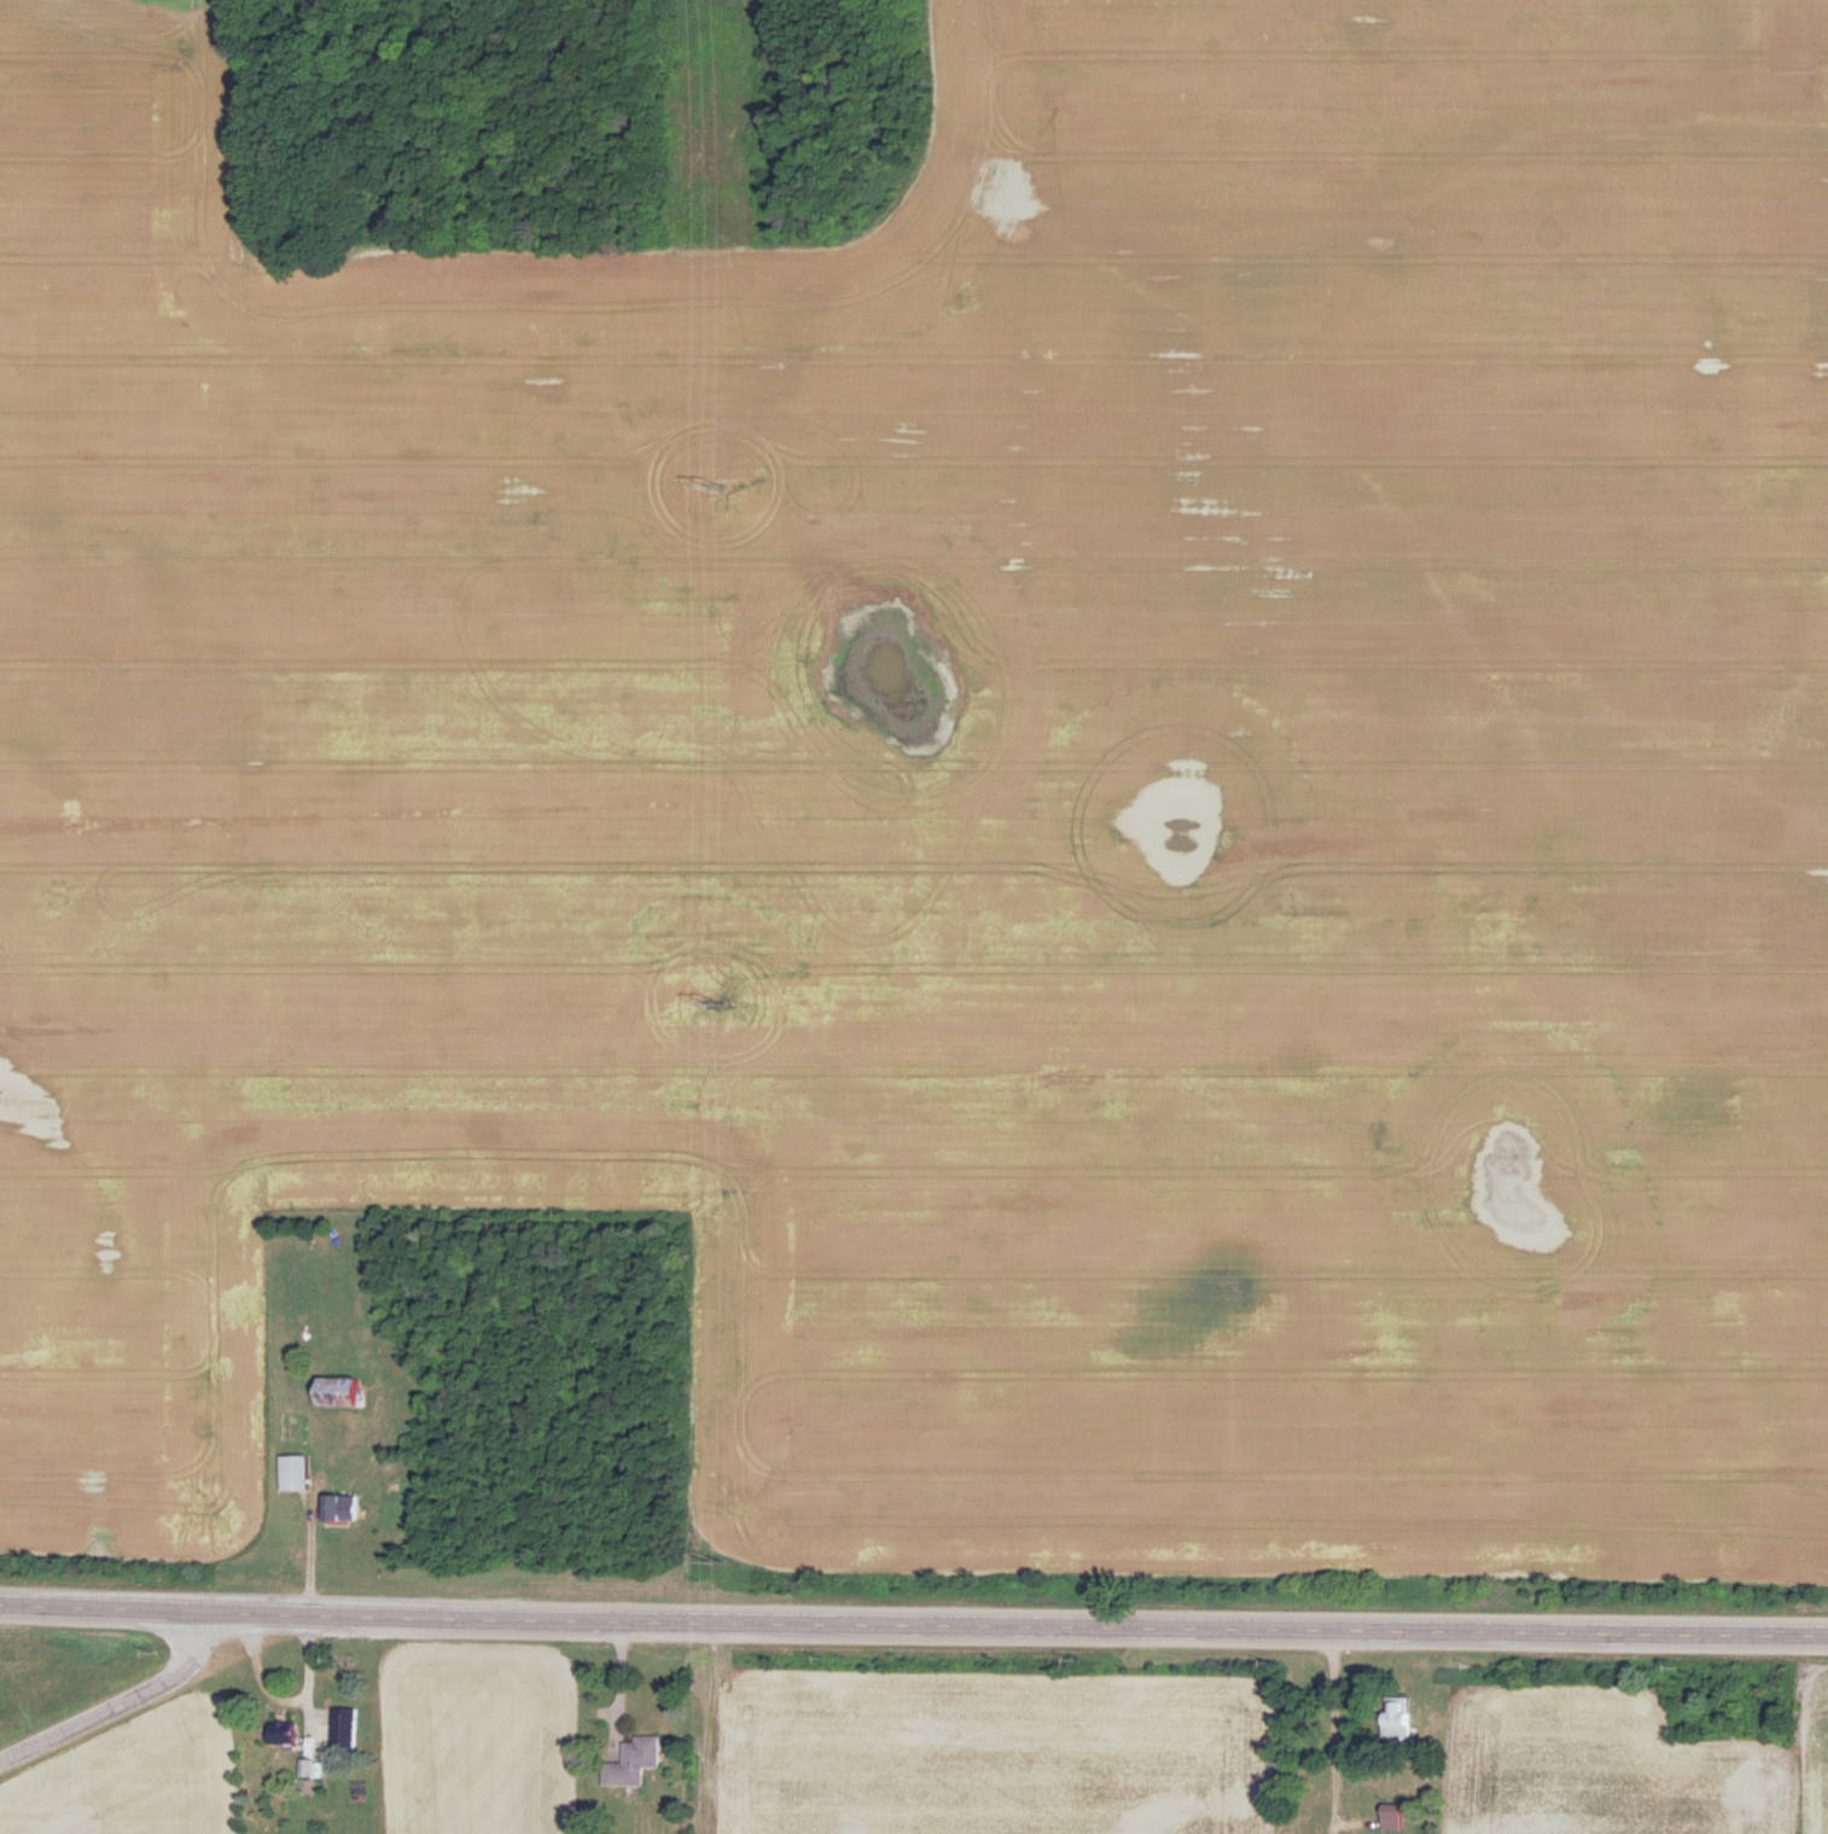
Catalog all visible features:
power tower: (717, 476)
power tower: (720, 1002)
building: (327, 1393)
building: (289, 1481)
building: (336, 1518)
power tower: (717, 1561)
road: (913, 1623)
road: (122, 1708)
building: (1390, 1728)
building: (337, 1737)
building: (275, 1742)
building: (627, 1771)
building: (1385, 1823)

